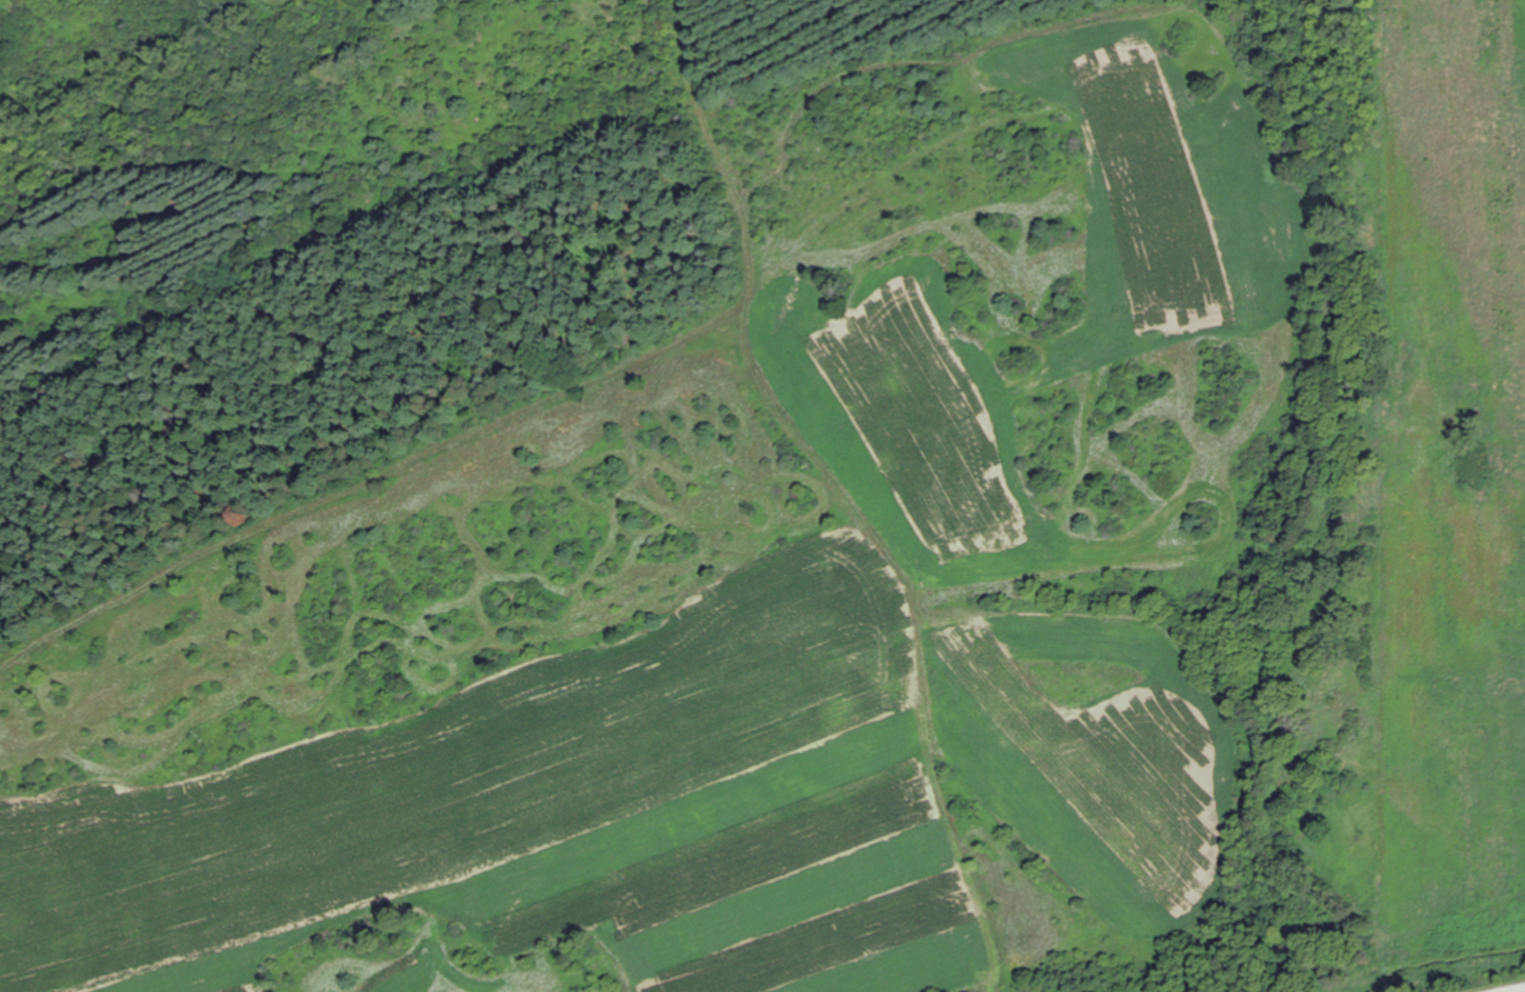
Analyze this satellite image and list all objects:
road: (1513, 989)

